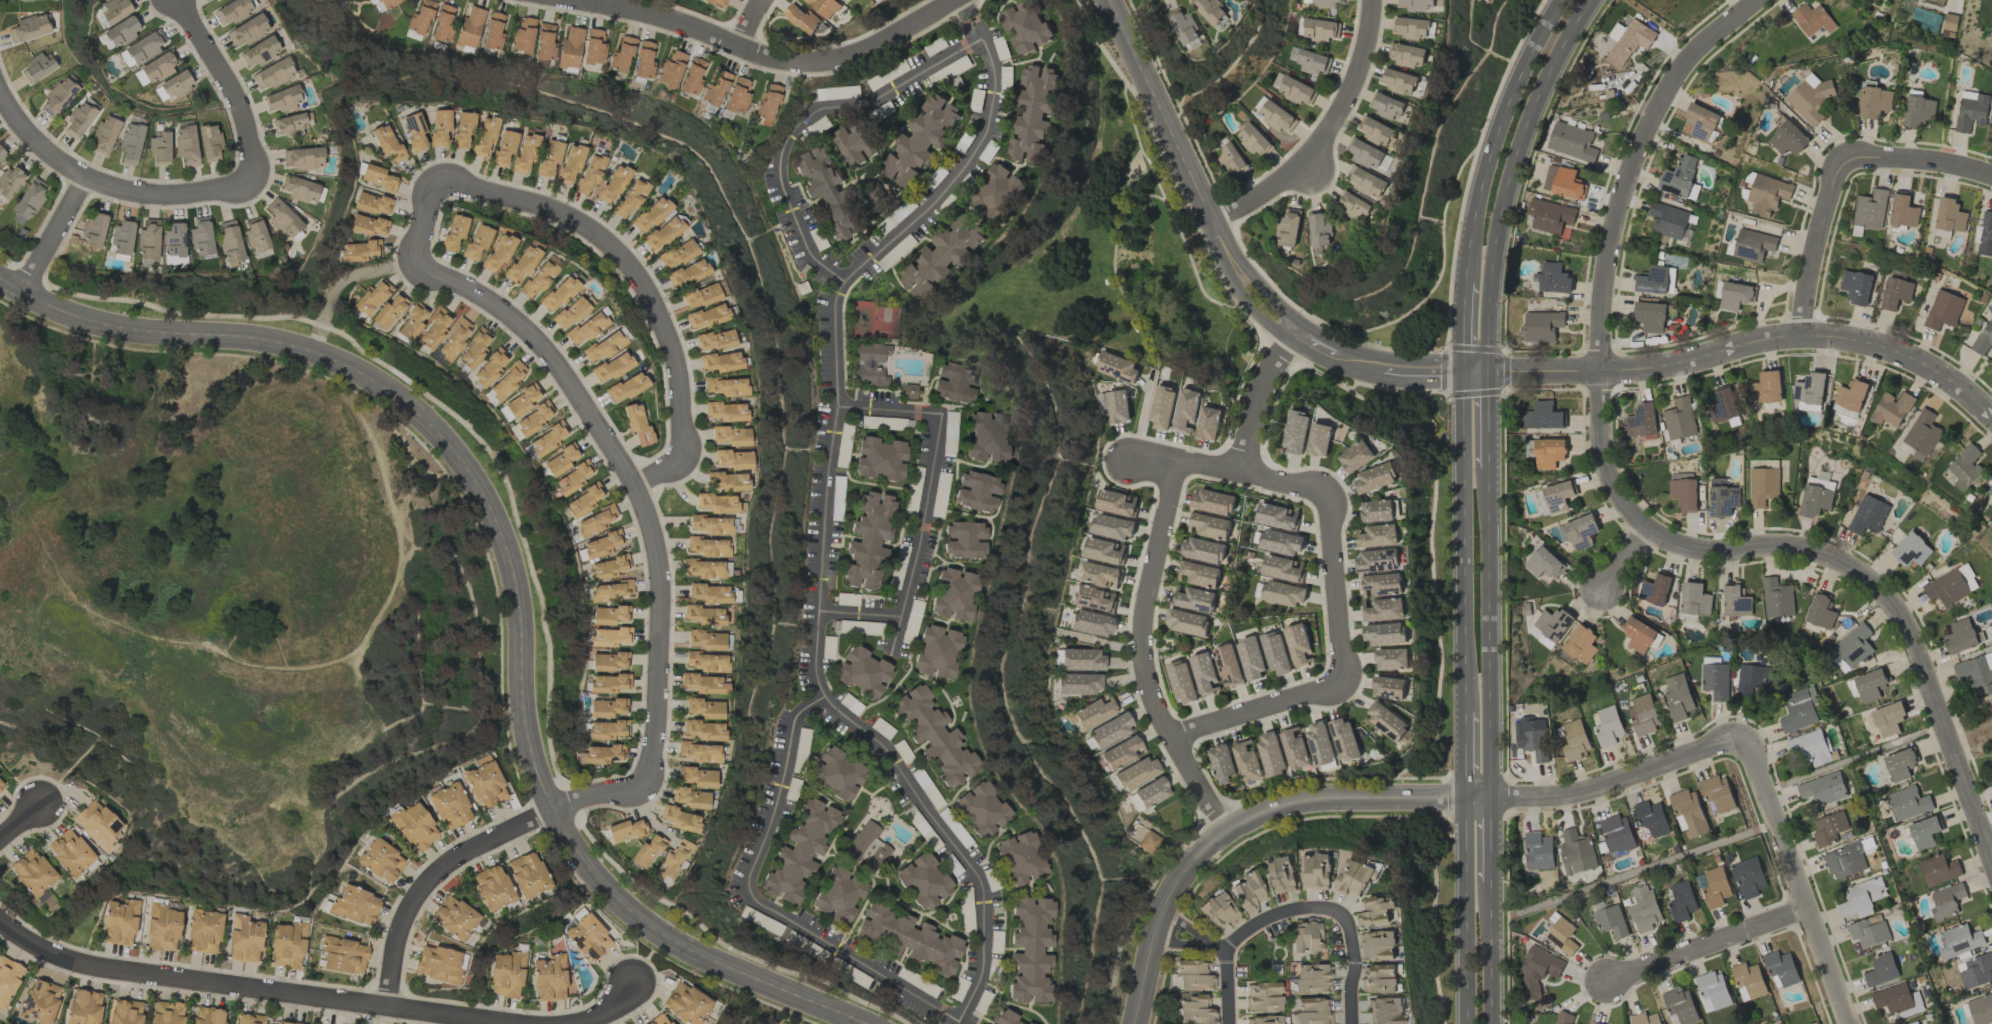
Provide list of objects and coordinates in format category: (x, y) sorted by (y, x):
road: (595, 2)
building: (1324, 2)
building: (717, 3)
building: (1417, 4)
building: (824, 7)
building: (116, 10)
building: (1210, 10)
building: (233, 11)
building: (420, 18)
building: (802, 18)
building: (1809, 18)
road: (753, 22)
building: (443, 24)
building: (1948, 24)
building: (1026, 26)
building: (1183, 26)
building: (470, 27)
building: (29, 28)
building: (1319, 29)
building: (122, 31)
building: (248, 31)
building: (493, 32)
building: (523, 35)
building: (1635, 35)
building: (544, 45)
building: (144, 47)
building: (571, 47)
building: (594, 48)
building: (259, 52)
building: (1407, 54)
building: (621, 55)
road: (766, 57)
building: (644, 60)
building: (1312, 62)
building: (159, 67)
building: (37, 68)
building: (671, 69)
building: (274, 74)
building: (693, 77)
building: (1398, 81)
building: (176, 85)
road: (229, 86)
building: (715, 88)
building: (1294, 90)
road: (884, 91)
building: (738, 95)
building: (58, 96)
building: (1810, 98)
building: (283, 99)
building: (768, 102)
building: (1874, 102)
building: (1386, 105)
building: (1970, 110)
building: (1918, 112)
building: (1034, 114)
building: (1275, 116)
building: (79, 118)
building: (289, 125)
building: (439, 126)
building: (462, 129)
building: (1375, 130)
building: (414, 131)
building: (105, 135)
building: (484, 136)
road: (1324, 136)
road: (1496, 136)
building: (1787, 138)
building: (1991, 138)
building: (920, 140)
building: (1253, 140)
building: (855, 141)
building: (1571, 141)
building: (209, 142)
building: (130, 143)
building: (388, 144)
building: (186, 145)
building: (504, 148)
building: (160, 149)
building: (525, 152)
building: (2, 153)
building: (1365, 153)
building: (549, 157)
building: (303, 158)
building: (1231, 159)
building: (570, 163)
building: (590, 173)
road: (1833, 174)
building: (1677, 176)
road: (1188, 177)
building: (378, 178)
road: (1509, 179)
building: (10, 180)
building: (1367, 182)
building: (1562, 182)
road: (106, 184)
building: (612, 184)
building: (300, 190)
building: (998, 192)
building: (827, 193)
building: (1767, 193)
building: (631, 198)
building: (27, 203)
building: (371, 203)
road: (1168, 205)
building: (1353, 205)
building: (1870, 209)
building: (1903, 210)
building: (650, 215)
road: (795, 215)
building: (1549, 215)
building: (1948, 217)
building: (283, 218)
road: (420, 218)
building: (1667, 220)
building: (367, 225)
building: (1288, 227)
building: (1319, 229)
building: (94, 231)
building: (453, 232)
building: (662, 233)
road: (1200, 233)
road: (52, 234)
building: (1985, 234)
building: (255, 235)
building: (122, 238)
building: (201, 238)
building: (149, 240)
building: (174, 240)
building: (230, 241)
building: (476, 241)
building: (1752, 245)
building: (358, 251)
building: (498, 253)
building: (677, 254)
building: (941, 257)
road: (1113, 258)
park: (1125, 262)
building: (522, 263)
building: (687, 274)
building: (1552, 278)
building: (1651, 279)
building: (537, 280)
road: (339, 282)
road: (642, 285)
building: (1855, 286)
building: (1895, 292)
building: (559, 293)
building: (1735, 295)
building: (700, 296)
building: (370, 299)
building: (1943, 309)
building: (389, 312)
building: (570, 312)
building: (1650, 316)
building: (706, 317)
building: (412, 323)
building: (1541, 325)
building: (586, 328)
road: (1464, 329)
building: (434, 330)
building: (1984, 337)
building: (454, 339)
building: (714, 340)
road: (1315, 346)
building: (603, 347)
road: (1750, 347)
building: (474, 349)
building: (719, 362)
building: (869, 364)
building: (1116, 366)
road: (1357, 366)
building: (490, 367)
building: (611, 367)
road: (1423, 374)
road: (1475, 375)
traffic signals: (1486, 375)
traffic signals: (1464, 376)
building: (508, 381)
building: (954, 383)
building: (626, 387)
building: (726, 387)
building: (1766, 387)
building: (1809, 388)
building: (1850, 395)
road: (1255, 396)
building: (522, 401)
building: (1722, 404)
building: (1114, 405)
building: (1808, 406)
building: (1161, 407)
building: (1891, 408)
building: (1185, 409)
building: (724, 412)
road: (1145, 413)
building: (1541, 415)
building: (1678, 418)
building: (534, 419)
building: (1641, 420)
road: (1486, 422)
building: (1208, 423)
building: (637, 424)
building: (1295, 431)
building: (1922, 434)
building: (730, 436)
building: (986, 437)
building: (1319, 439)
building: (547, 440)
building: (1547, 452)
building: (1356, 456)
building: (733, 459)
building: (880, 459)
building: (560, 461)
road: (1228, 467)
building: (1965, 467)
building: (1375, 477)
building: (573, 478)
building: (727, 481)
building: (1762, 485)
building: (976, 492)
building: (1990, 493)
building: (1683, 494)
building: (1816, 495)
building: (1554, 497)
building: (1722, 500)
building: (584, 501)
building: (1213, 501)
building: (1115, 502)
building: (716, 503)
road: (924, 506)
road: (825, 510)
building: (1379, 510)
road: (1626, 511)
building: (1867, 514)
building: (1276, 516)
building: (597, 521)
road: (648, 522)
building: (710, 525)
building: (1111, 526)
building: (1210, 526)
building: (1577, 531)
building: (1377, 536)
building: (963, 540)
road: (1428, 540)
building: (868, 541)
building: (1280, 542)
road: (1463, 543)
building: (602, 544)
building: (707, 546)
building: (1910, 549)
building: (1102, 550)
building: (1377, 559)
road: (1625, 561)
building: (1543, 563)
road: (510, 568)
building: (608, 568)
building: (706, 568)
building: (1282, 568)
building: (1098, 574)
building: (1199, 574)
road: (394, 580)
building: (1380, 584)
road: (1335, 586)
building: (1945, 587)
building: (1655, 589)
building: (612, 591)
building: (1283, 593)
building: (710, 594)
building: (954, 595)
building: (1093, 598)
building: (1194, 598)
building: (1694, 598)
building: (1776, 598)
building: (1735, 600)
building: (1384, 609)
building: (1820, 612)
building: (609, 615)
building: (703, 615)
building: (1186, 622)
building: (1091, 623)
building: (1552, 623)
road: (896, 633)
building: (1384, 633)
road: (1489, 633)
building: (1637, 634)
building: (1961, 636)
building: (610, 637)
building: (705, 640)
building: (1297, 643)
building: (1580, 643)
building: (1851, 647)
building: (936, 652)
building: (1275, 653)
road: (1144, 655)
building: (1250, 658)
building: (1391, 658)
building: (1083, 660)
building: (609, 662)
building: (706, 662)
building: (1227, 665)
building: (1203, 672)
building: (1976, 672)
building: (862, 673)
building: (1752, 677)
building: (1715, 680)
building: (1181, 681)
building: (609, 683)
building: (1079, 683)
building: (702, 684)
building: (1869, 684)
building: (1388, 687)
building: (1677, 697)
building: (607, 708)
road: (1257, 708)
building: (705, 709)
building: (1799, 709)
building: (1094, 712)
building: (1642, 714)
building: (1386, 719)
building: (1887, 719)
building: (1607, 726)
park: (1976, 727)
building: (607, 729)
building: (702, 730)
road: (1967, 730)
building: (1110, 731)
building: (933, 738)
building: (1343, 738)
building: (1531, 740)
building: (1574, 740)
building: (1319, 743)
building: (1811, 747)
building: (1294, 748)
building: (699, 752)
building: (1122, 753)
building: (1271, 753)
road: (1463, 754)
building: (602, 755)
building: (1246, 760)
building: (1221, 763)
building: (1899, 764)
building: (1136, 773)
building: (836, 774)
building: (697, 777)
building: (2, 784)
building: (486, 785)
building: (1822, 788)
road: (776, 789)
road: (1445, 793)
building: (1148, 794)
building: (1717, 794)
road: (1375, 796)
building: (688, 798)
building: (1907, 802)
building: (450, 806)
building: (1688, 812)
building: (980, 813)
building: (1651, 817)
road: (19, 819)
building: (679, 819)
building: (98, 824)
building: (415, 826)
building: (1828, 827)
building: (625, 831)
building: (1923, 832)
building: (1616, 835)
building: (1149, 842)
road: (1490, 842)
building: (868, 845)
building: (1537, 850)
building: (800, 851)
building: (70, 852)
building: (646, 852)
building: (1576, 852)
building: (381, 860)
building: (1845, 860)
building: (1019, 863)
building: (1938, 869)
building: (1316, 871)
building: (32, 872)
building: (527, 875)
building: (1280, 875)
road: (431, 876)
building: (1353, 877)
building: (1747, 877)
building: (923, 881)
road: (1795, 881)
building: (492, 887)
building: (1715, 887)
building: (1247, 893)
building: (838, 894)
building: (1860, 897)
building: (1946, 900)
building: (1680, 901)
building: (356, 906)
building: (1642, 908)
building: (1375, 910)
building: (1219, 911)
road: (1464, 911)
road: (1430, 914)
building: (454, 918)
street lamp: (1328, 920)
building: (1610, 921)
building: (120, 922)
building: (162, 928)
road: (1244, 930)
building: (1868, 930)
building: (204, 932)
building: (1561, 935)
building: (587, 936)
building: (1306, 936)
building: (244, 939)
building: (909, 939)
building: (1958, 940)
building: (1377, 944)
building: (288, 945)
road: (1706, 946)
building: (1030, 953)
road: (850, 954)
building: (344, 955)
road: (1490, 955)
park: (1264, 957)
road: (1353, 963)
building: (438, 965)
building: (1537, 969)
building: (1780, 969)
building: (1880, 969)
building: (1976, 971)
building: (507, 975)
building: (1193, 975)
building: (8, 978)
building: (549, 978)
building: (1380, 978)
building: (1312, 979)
building: (1747, 980)
road: (1225, 986)
road: (256, 987)
street lamp: (1336, 992)
building: (1264, 997)
building: (1897, 1000)
building: (40, 1002)
building: (685, 1004)
building: (1679, 1006)
building: (84, 1007)
building: (1195, 1009)
building: (1980, 1009)
building: (1384, 1010)
road: (602, 1011)
building: (1312, 1011)
building: (126, 1012)
building: (167, 1013)
building: (208, 1016)
building: (1563, 1018)
building: (1644, 1018)
building: (249, 1019)
building: (1004, 1019)
building: (659, 1020)
building: (1265, 1020)
building: (283, 1022)
building: (1913, 1022)
building: (1026, 1023)
building: (1593, 1023)
building: (1815, 1023)

